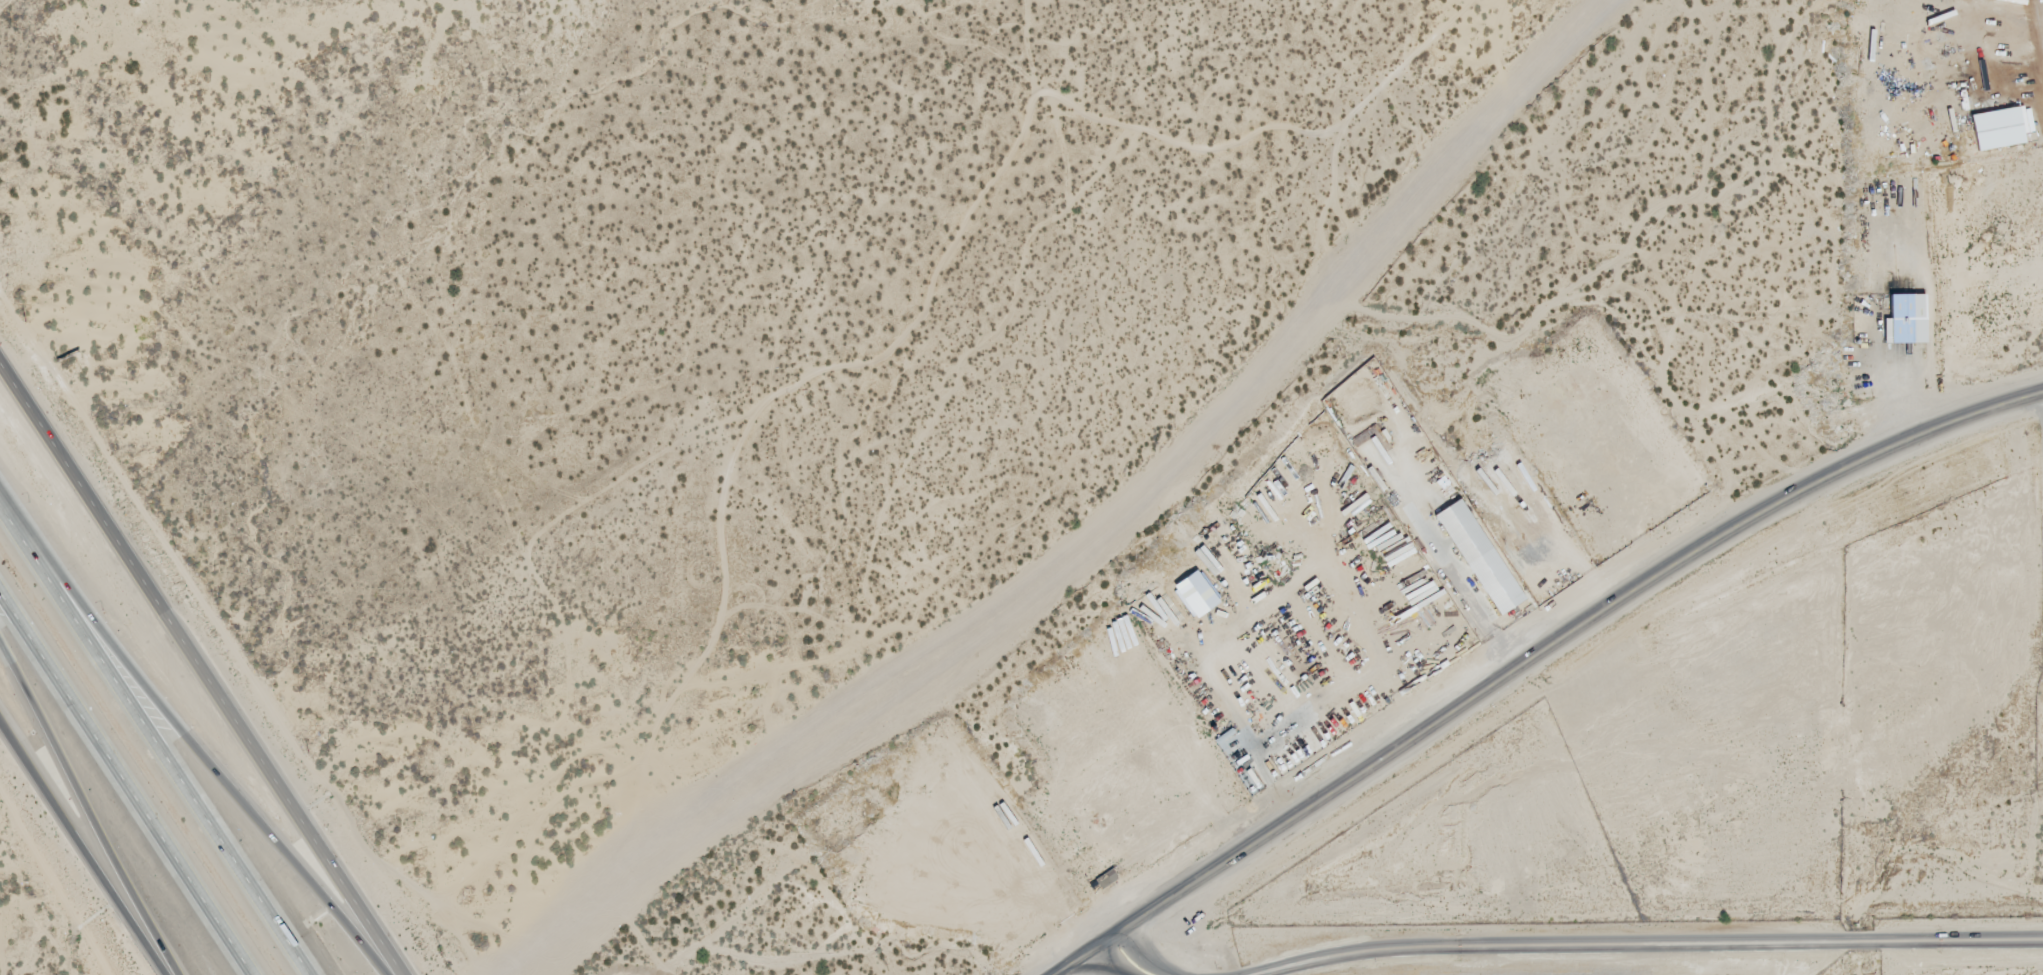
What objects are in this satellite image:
building: (1991, 126)
building: (1895, 316)
building: (1475, 554)
road: (1534, 657)
road: (201, 668)
road: (185, 735)
road: (151, 742)
road: (124, 785)
road: (90, 809)
road: (82, 846)
road: (1638, 936)
road: (1134, 957)

